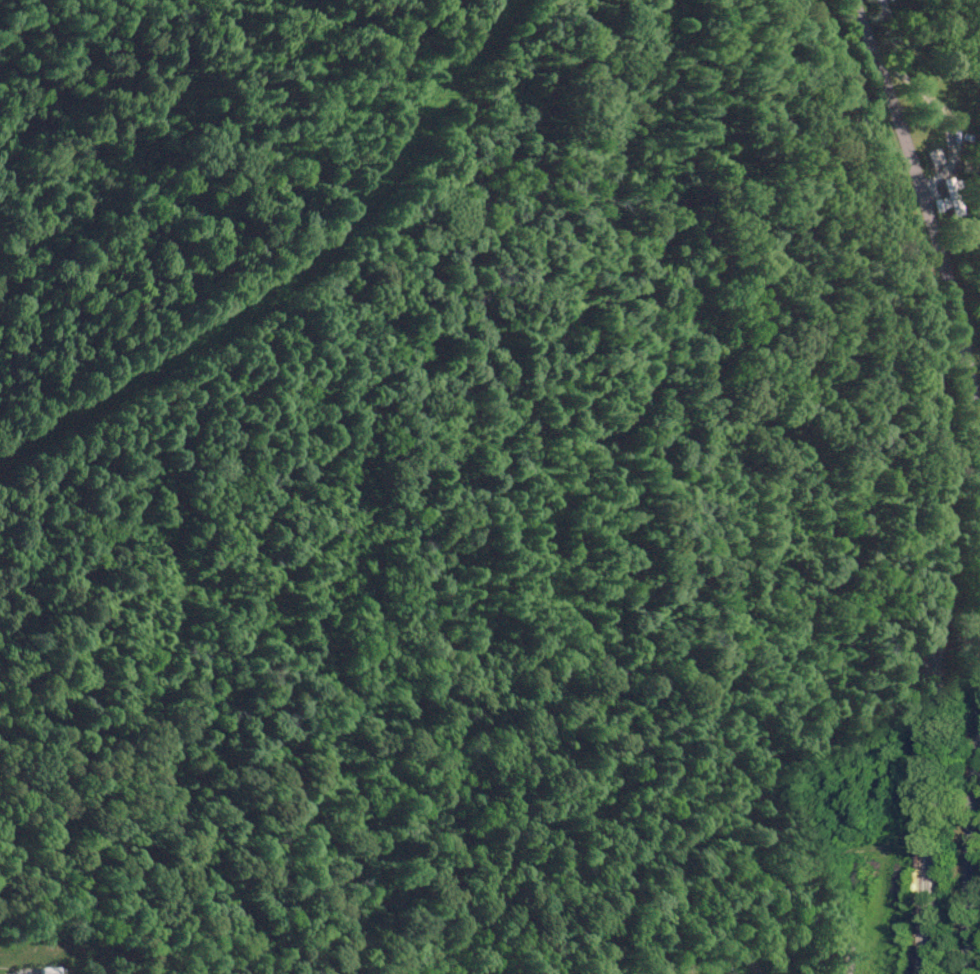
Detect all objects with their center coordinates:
building: (951, 196)
railway: (940, 474)
road: (973, 478)

